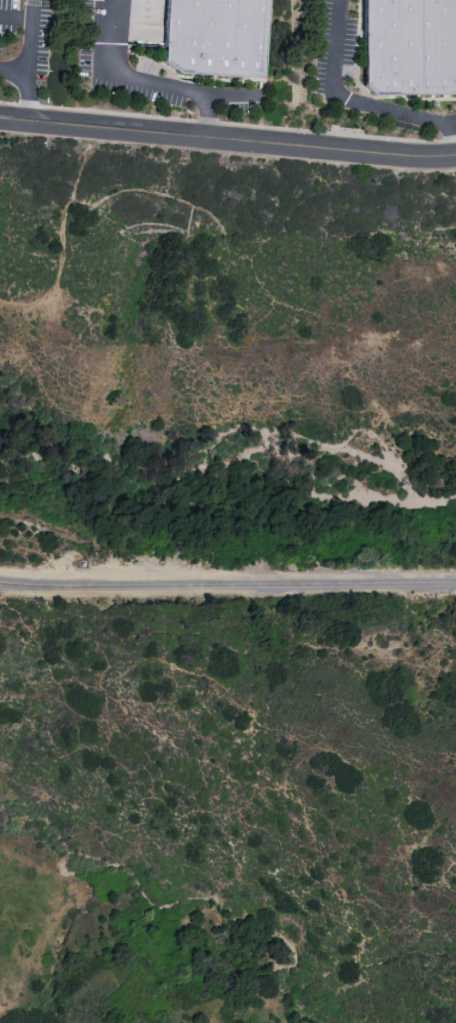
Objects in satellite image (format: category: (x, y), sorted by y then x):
road: (37, 8)
road: (18, 15)
building: (222, 40)
building: (411, 51)
road: (33, 69)
road: (16, 72)
road: (148, 81)
road: (359, 101)
road: (207, 116)
road: (453, 122)
road: (228, 139)
railway: (227, 585)

